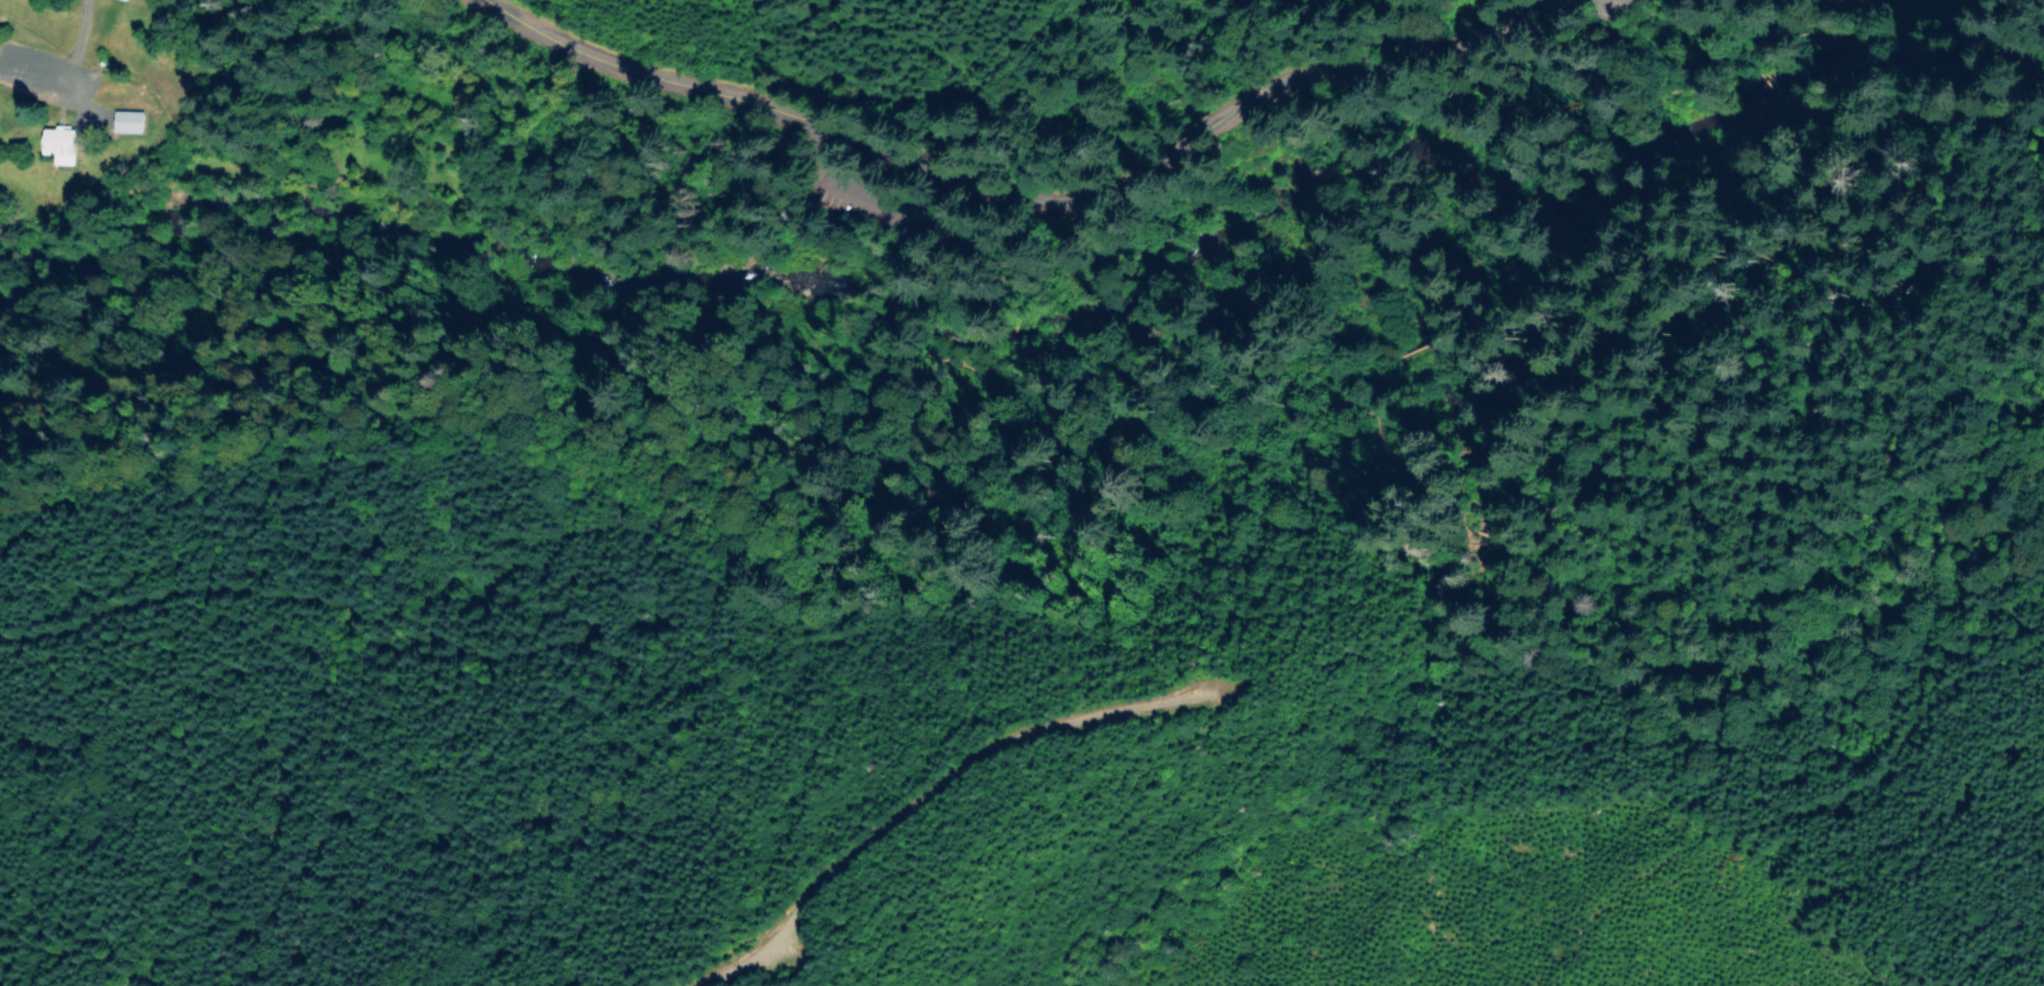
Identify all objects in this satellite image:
road: (1590, 7)
parking lot: (1610, 7)
road: (2043, 7)
road: (1788, 11)
road: (1615, 19)
road: (1583, 51)
road: (52, 88)
road: (1654, 92)
road: (825, 181)
parking lot: (857, 198)
road: (1023, 199)
road: (1532, 201)
road: (1457, 264)
road: (1095, 348)
road: (1411, 349)
road: (1677, 398)

